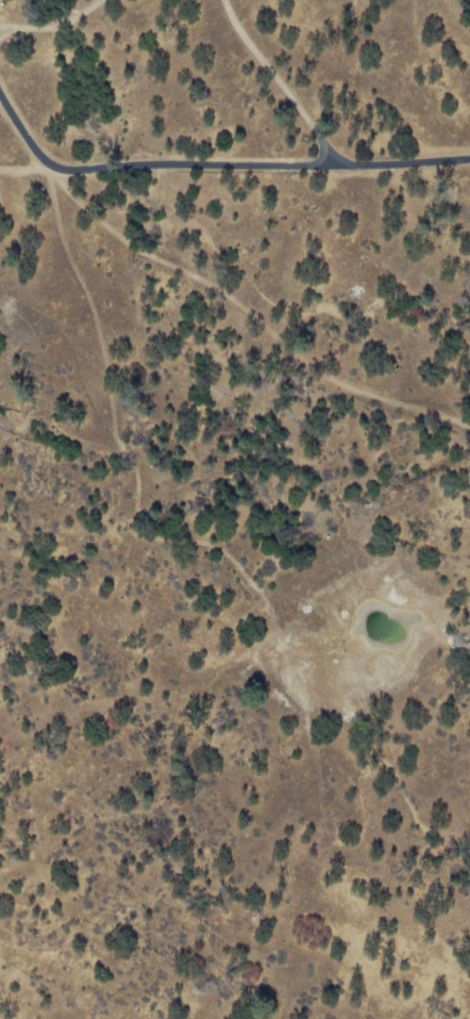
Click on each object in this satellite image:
road: (52, 24)
road: (7, 31)
road: (278, 80)
road: (215, 165)

